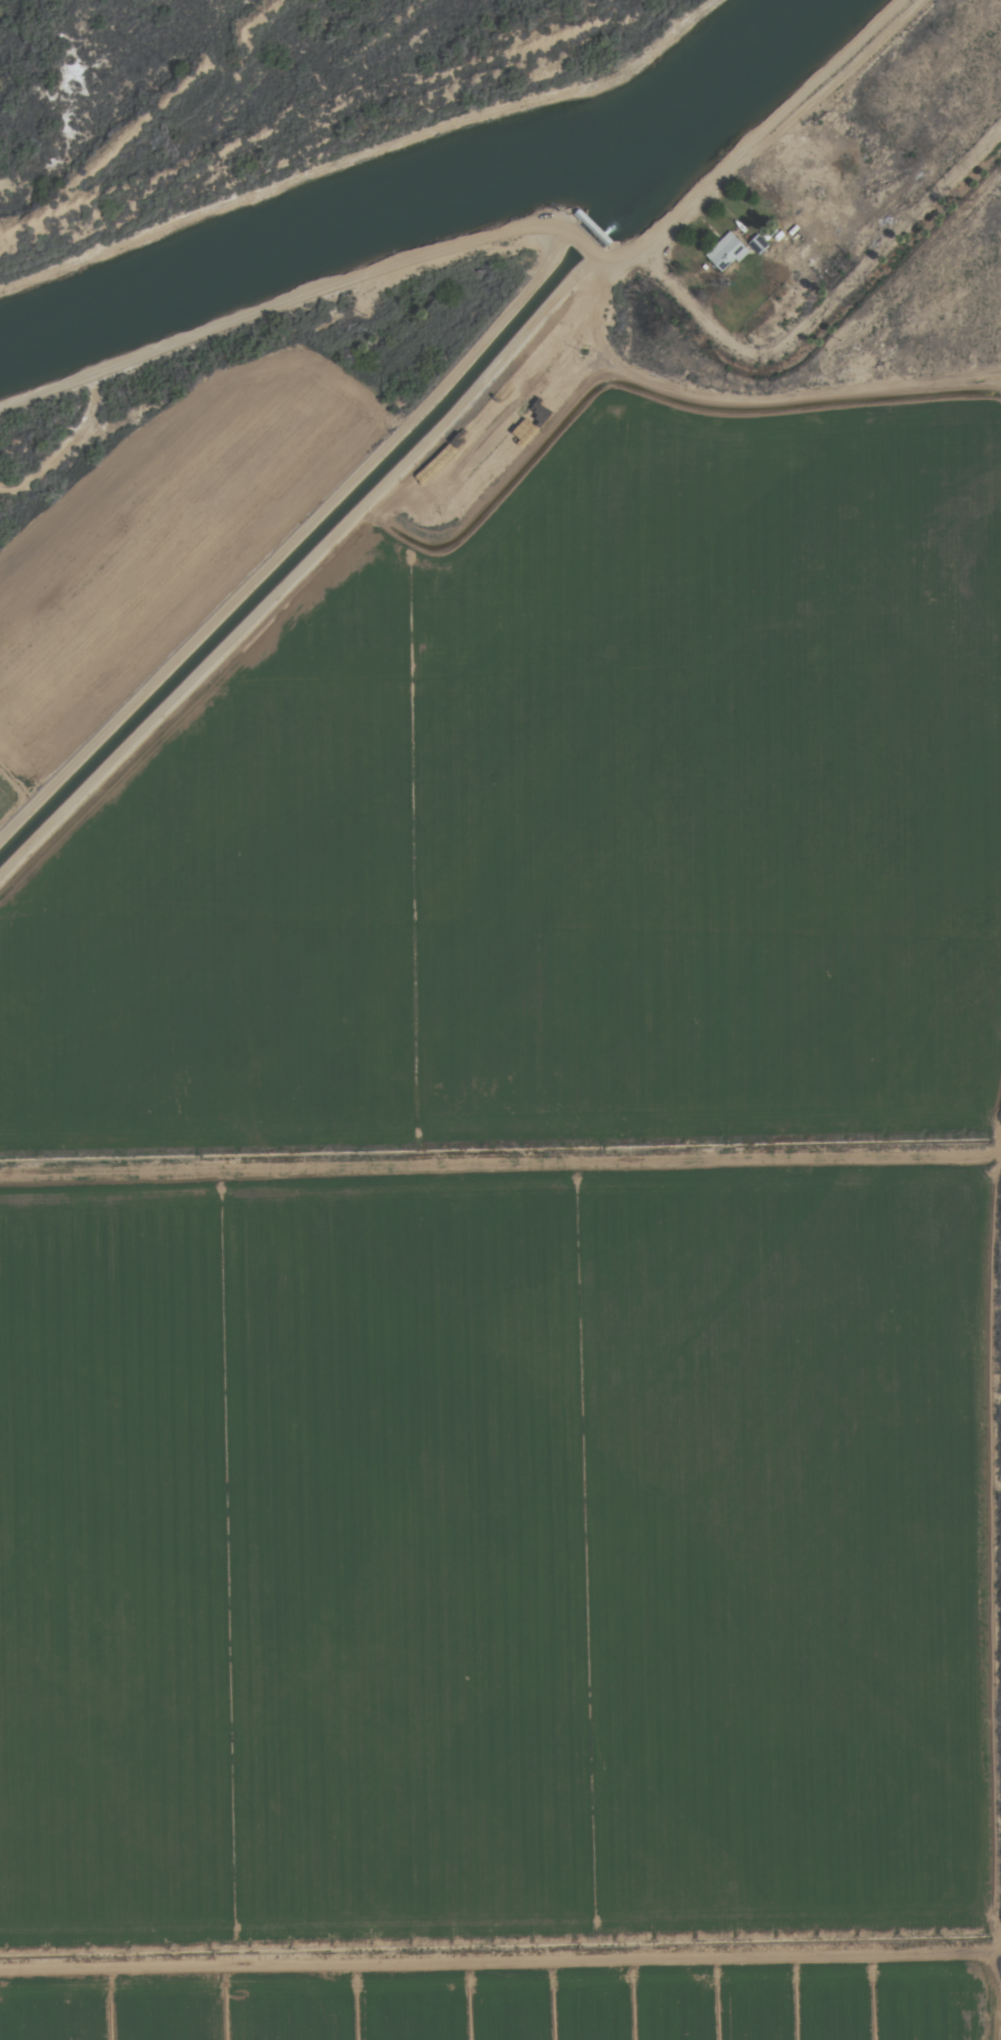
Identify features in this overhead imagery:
building: (727, 252)
crop: (570, 818)

